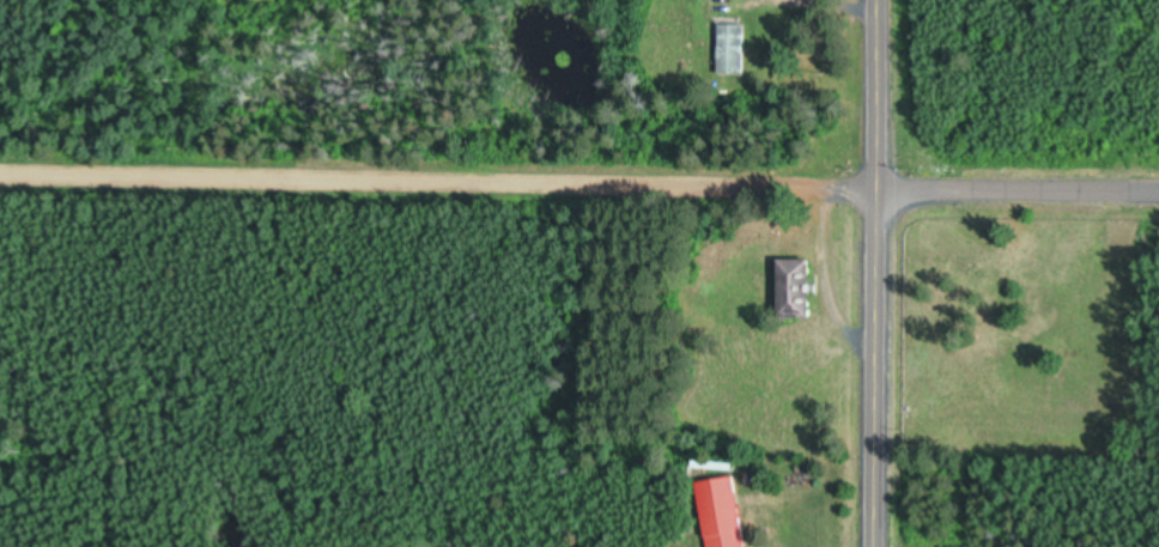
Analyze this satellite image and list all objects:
building: (733, 53)
road: (438, 181)
road: (1018, 194)
road: (876, 273)
road: (826, 282)
building: (796, 293)
park: (954, 317)
building: (723, 515)

